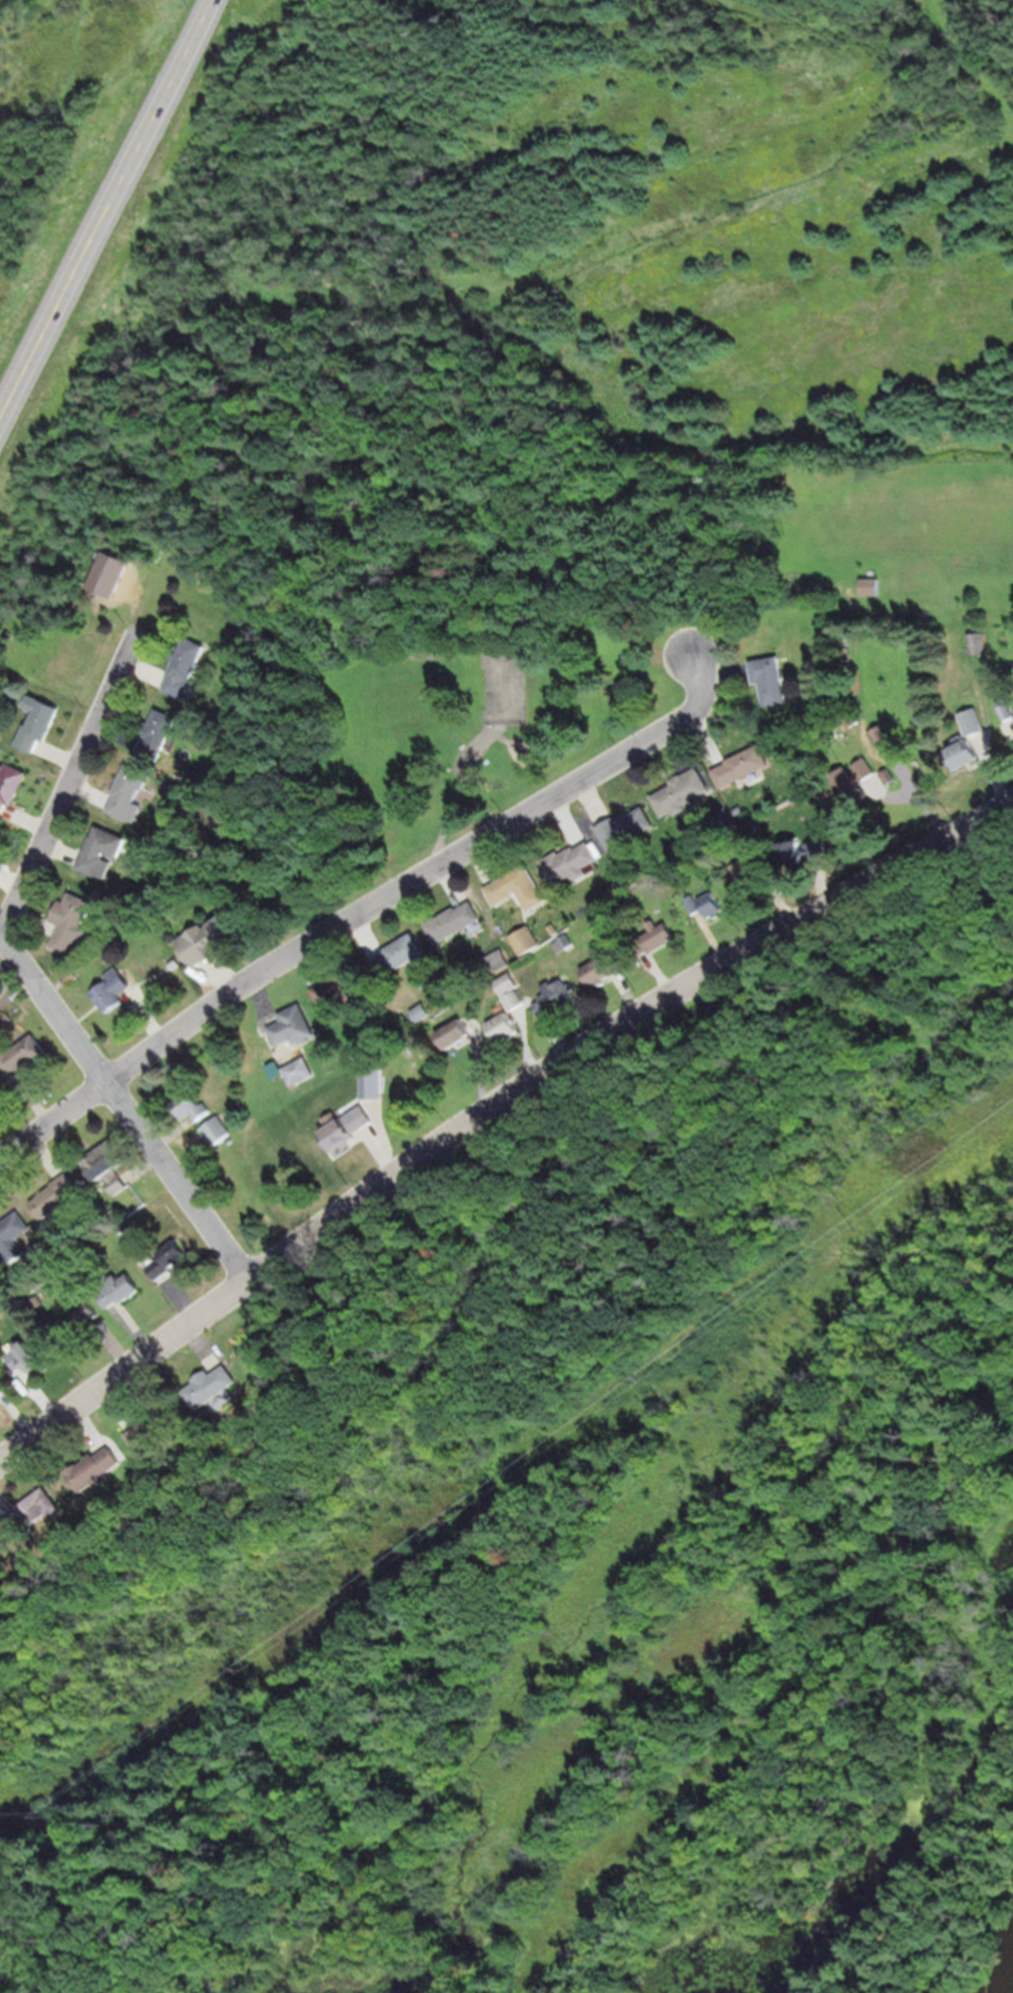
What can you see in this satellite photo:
road: (110, 215)
building: (776, 566)
building: (108, 572)
building: (872, 586)
building: (978, 642)
building: (185, 668)
building: (771, 678)
building: (77, 681)
building: (1006, 707)
building: (850, 718)
park: (490, 719)
building: (973, 720)
building: (39, 725)
building: (157, 734)
building: (883, 734)
road: (502, 737)
building: (963, 752)
building: (743, 765)
building: (890, 775)
building: (855, 779)
building: (11, 785)
road: (68, 785)
road: (460, 791)
building: (129, 792)
building: (682, 792)
building: (626, 827)
building: (101, 850)
building: (815, 850)
building: (794, 852)
building: (571, 862)
building: (180, 865)
building: (246, 865)
building: (752, 870)
building: (519, 887)
building: (615, 888)
building: (683, 891)
building: (694, 903)
building: (712, 904)
road: (362, 911)
building: (73, 918)
building: (455, 921)
building: (219, 932)
building: (654, 937)
building: (527, 939)
building: (565, 942)
building: (398, 955)
building: (614, 957)
building: (500, 960)
building: (176, 962)
building: (597, 972)
building: (71, 976)
building: (508, 982)
building: (343, 987)
building: (114, 989)
building: (556, 995)
building: (516, 999)
building: (17, 1009)
building: (421, 1011)
building: (8, 1016)
building: (293, 1026)
building: (506, 1027)
building: (461, 1029)
building: (358, 1053)
building: (22, 1054)
building: (295, 1071)
building: (374, 1082)
building: (1, 1085)
road: (128, 1104)
building: (190, 1106)
road: (493, 1109)
building: (348, 1127)
building: (217, 1129)
building: (108, 1164)
building: (56, 1194)
building: (116, 1214)
building: (14, 1235)
building: (94, 1256)
building: (169, 1258)
building: (119, 1289)
building: (39, 1300)
building: (84, 1320)
building: (29, 1355)
building: (210, 1386)
building: (2, 1390)
building: (153, 1424)
building: (95, 1467)
building: (31, 1510)
building: (64, 1565)
building: (24, 1608)

